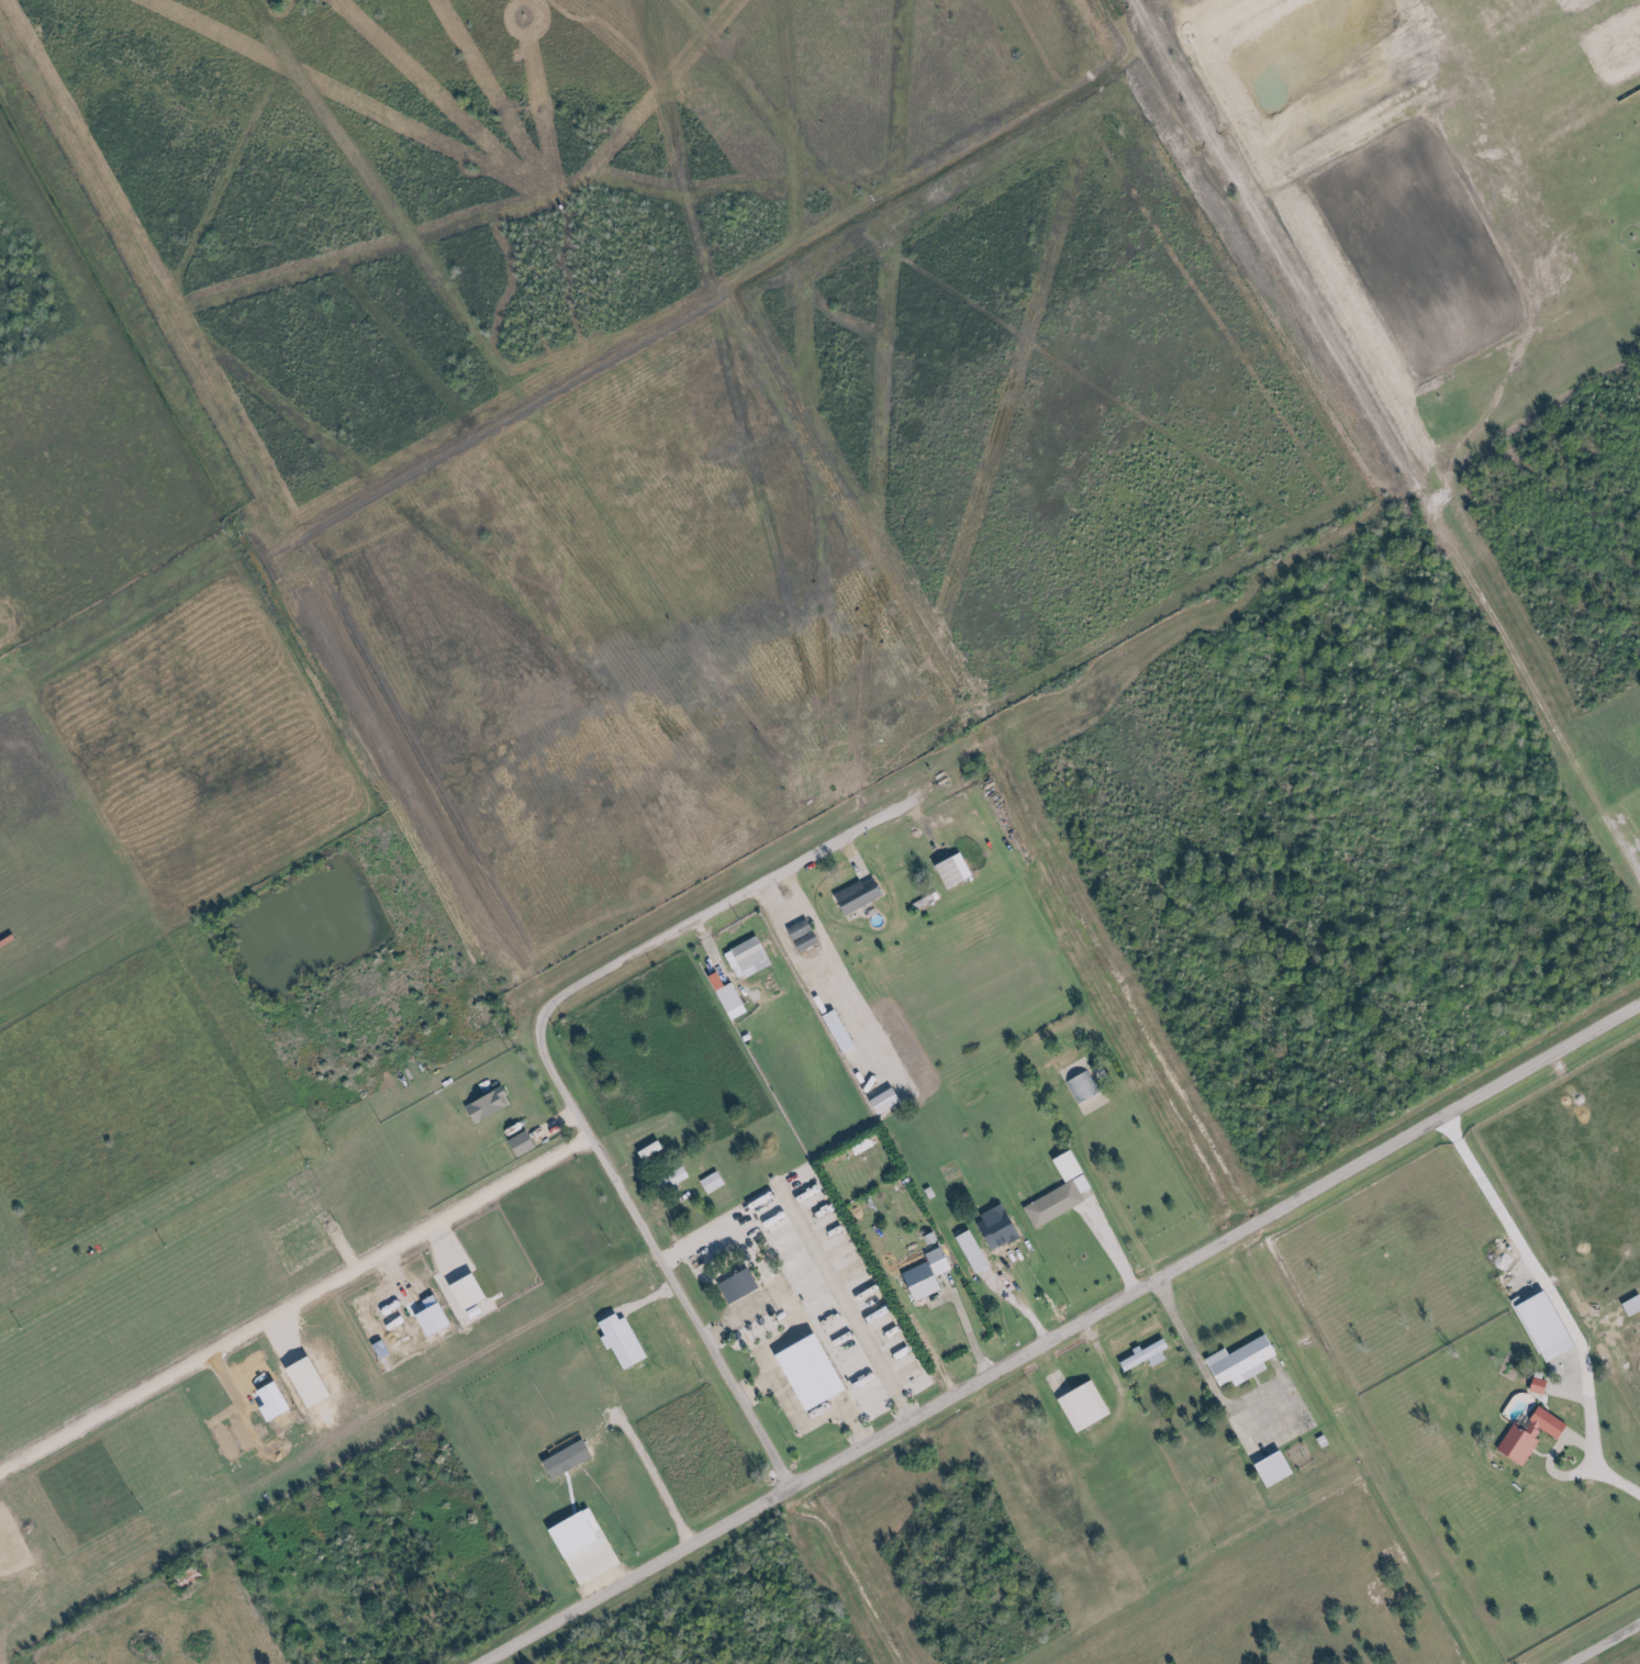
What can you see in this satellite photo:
building: (956, 870)
building: (860, 895)
building: (804, 935)
building: (751, 956)
building: (733, 996)
road: (548, 1070)
building: (1082, 1088)
building: (493, 1105)
building: (526, 1143)
building: (1056, 1204)
building: (984, 1253)
building: (929, 1274)
building: (740, 1286)
building: (477, 1295)
road: (1554, 1311)
road: (1061, 1334)
building: (1146, 1355)
building: (1243, 1361)
building: (815, 1372)
building: (1539, 1386)
building: (1085, 1407)
building: (1531, 1436)
building: (587, 1542)
road: (1603, 1642)

